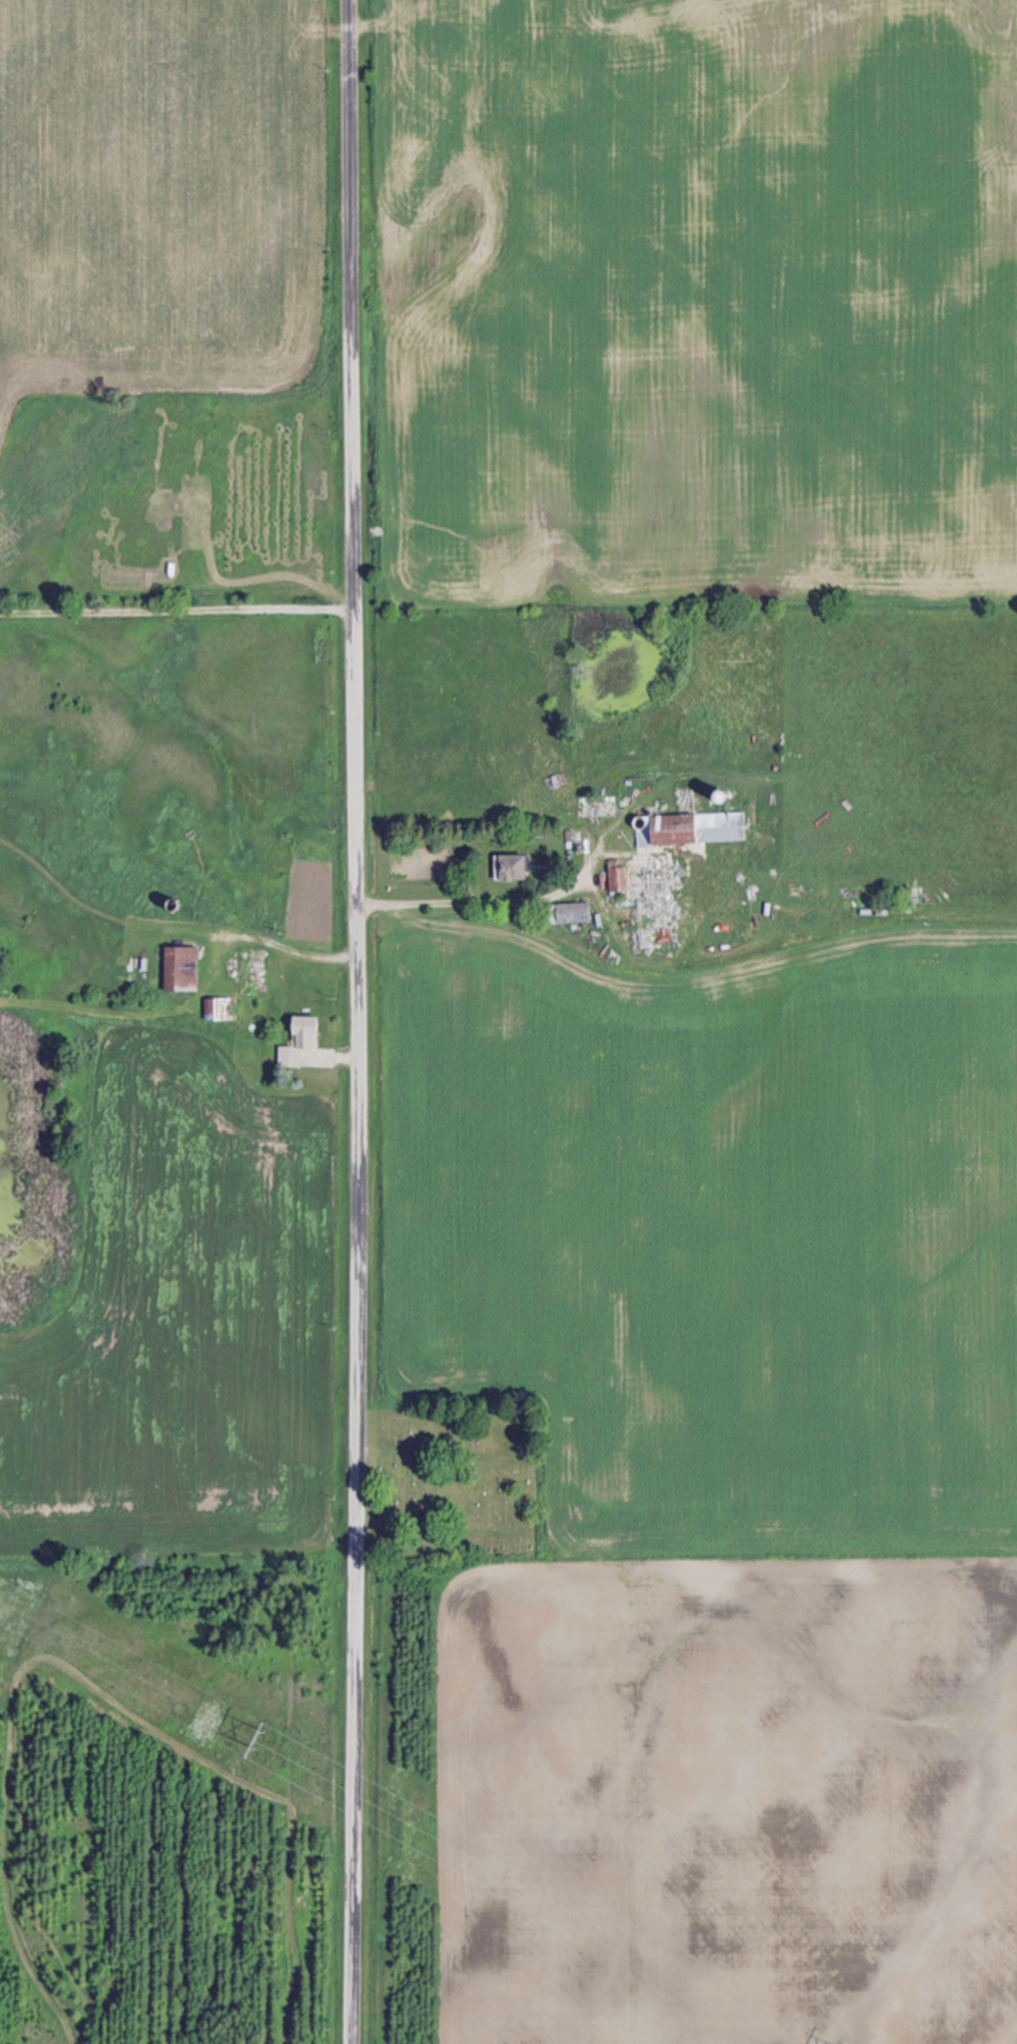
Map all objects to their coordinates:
building: (691, 829)
building: (509, 867)
road: (475, 899)
building: (564, 914)
road: (277, 943)
building: (178, 968)
building: (218, 1009)
road: (357, 1021)
building: (298, 1043)
park: (457, 1482)
power tower: (260, 1743)

